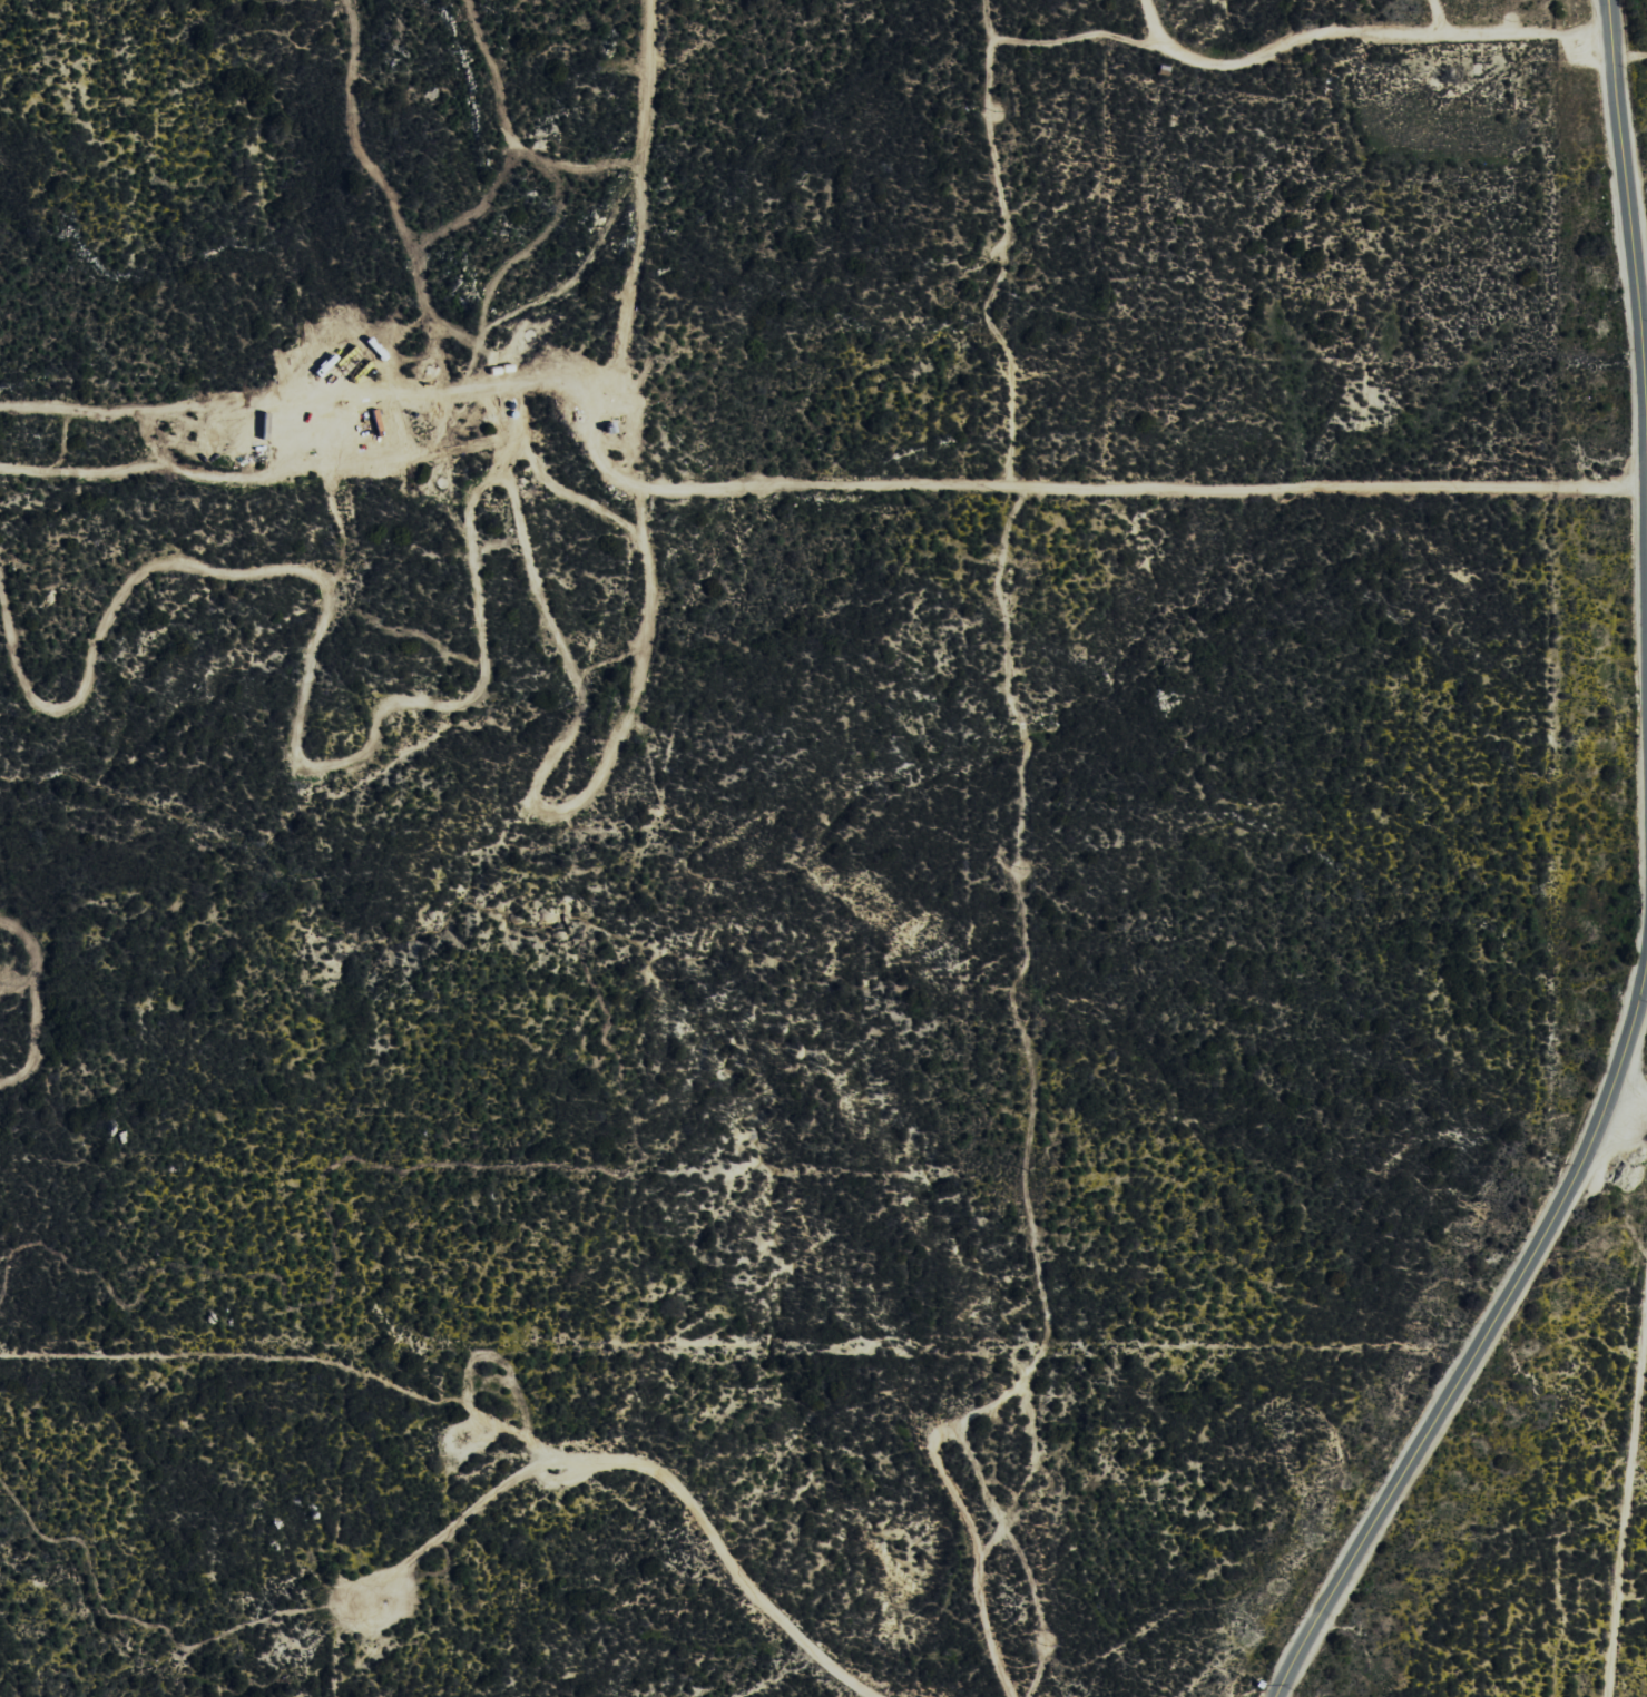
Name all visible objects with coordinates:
road: (1532, 14)
road: (1628, 313)
road: (1487, 1340)

